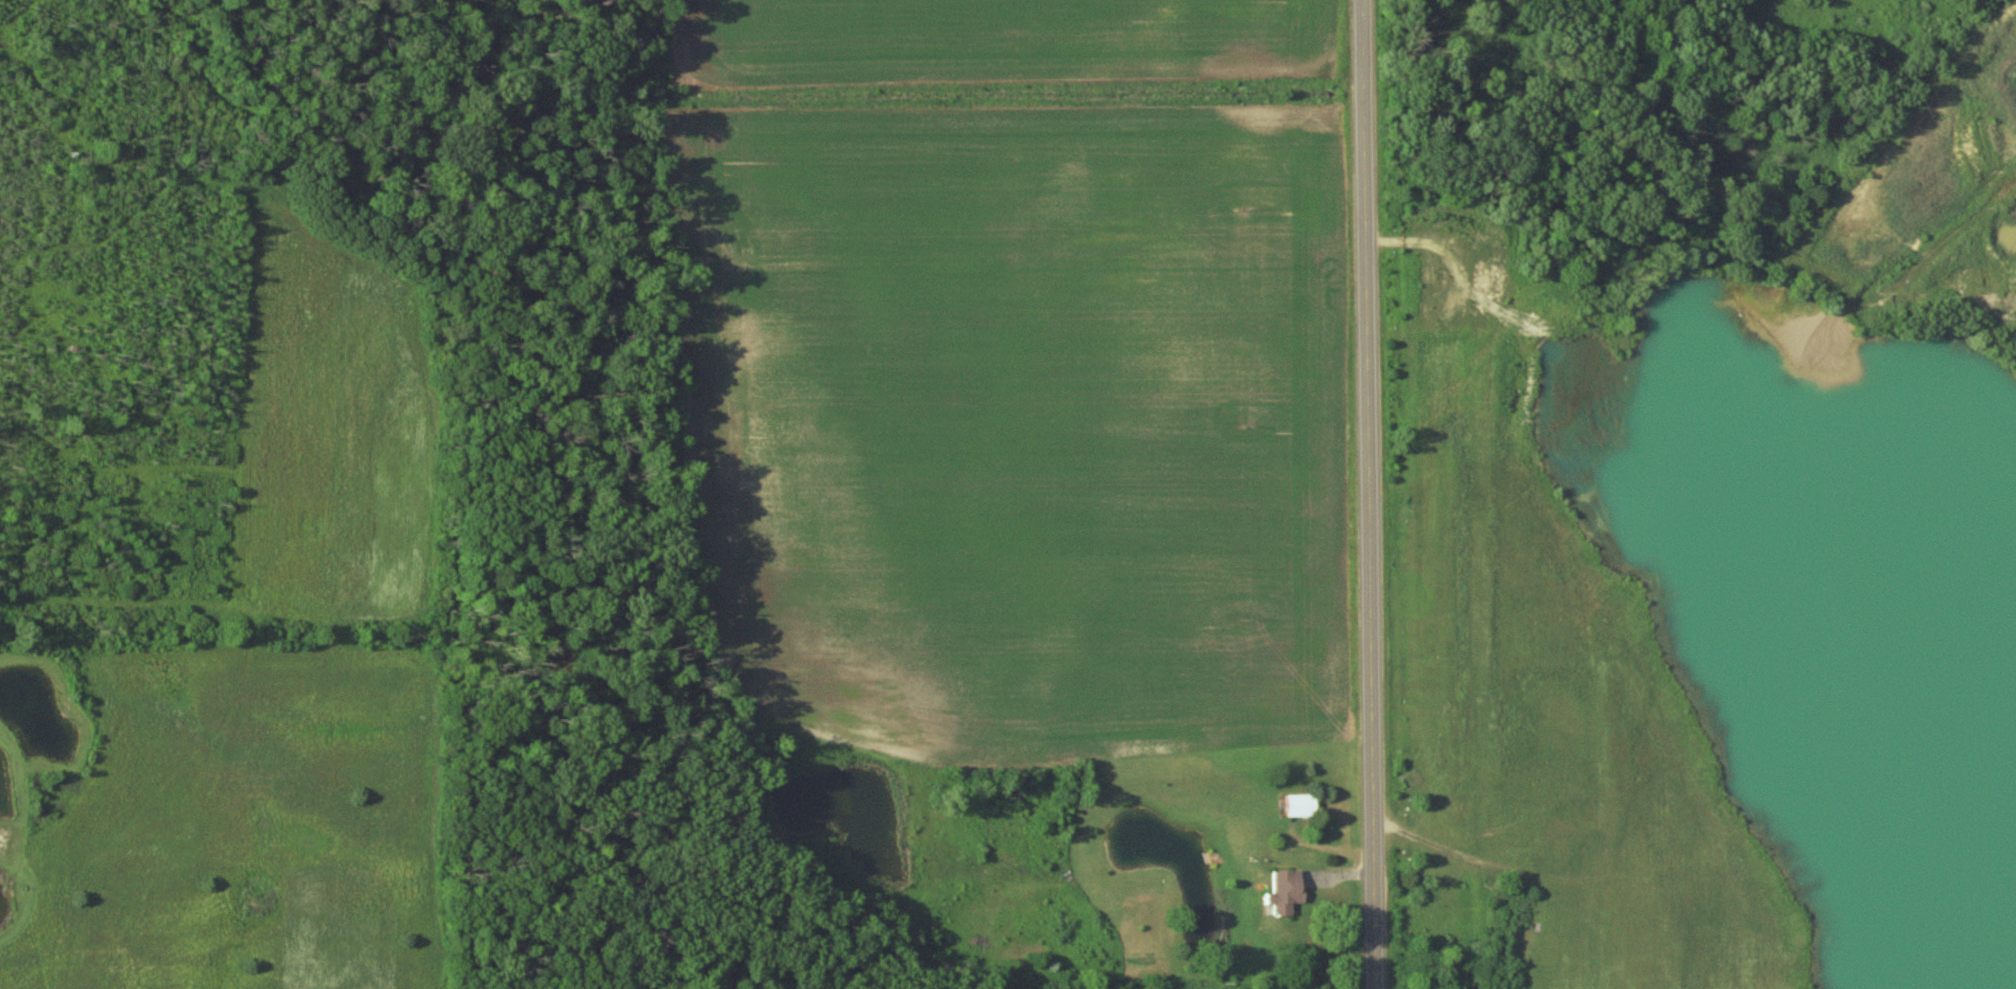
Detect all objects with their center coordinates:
road: (1370, 494)
building: (1299, 805)
building: (1283, 891)

